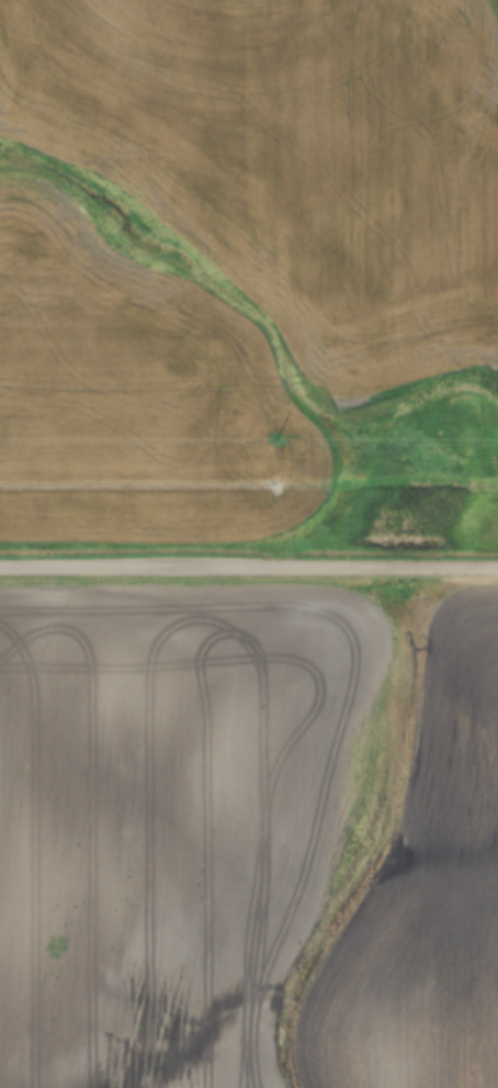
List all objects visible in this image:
road: (249, 572)

